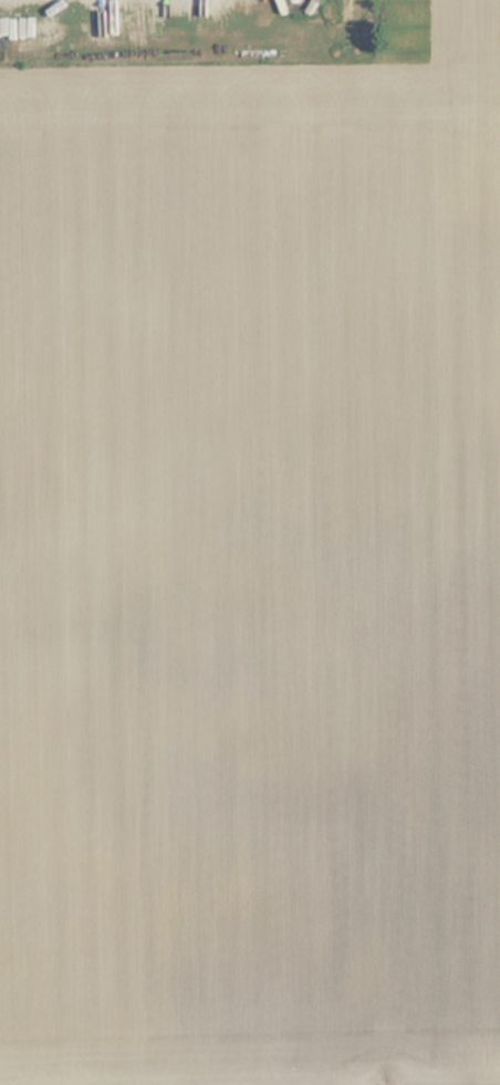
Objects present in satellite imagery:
building: (28, 18)

